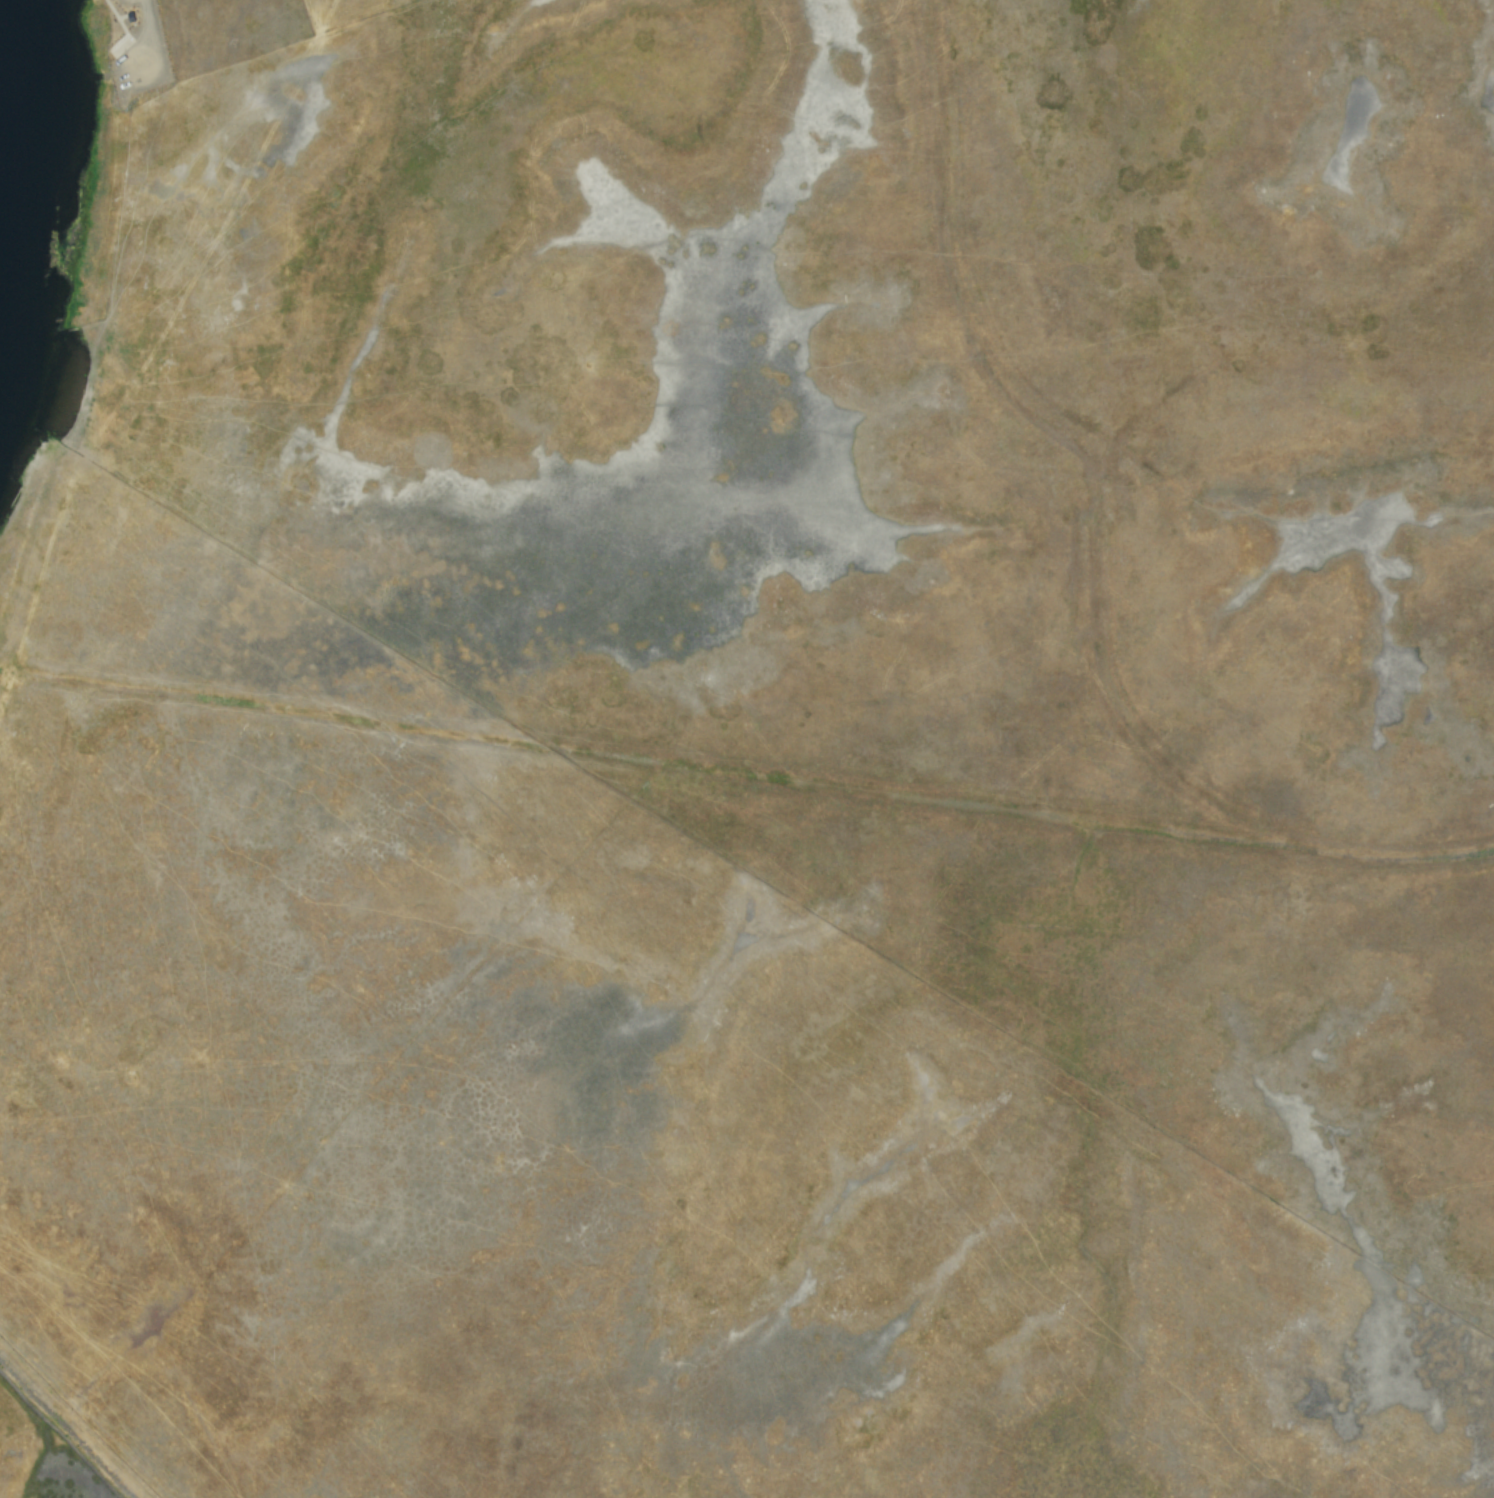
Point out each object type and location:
road: (107, 340)

